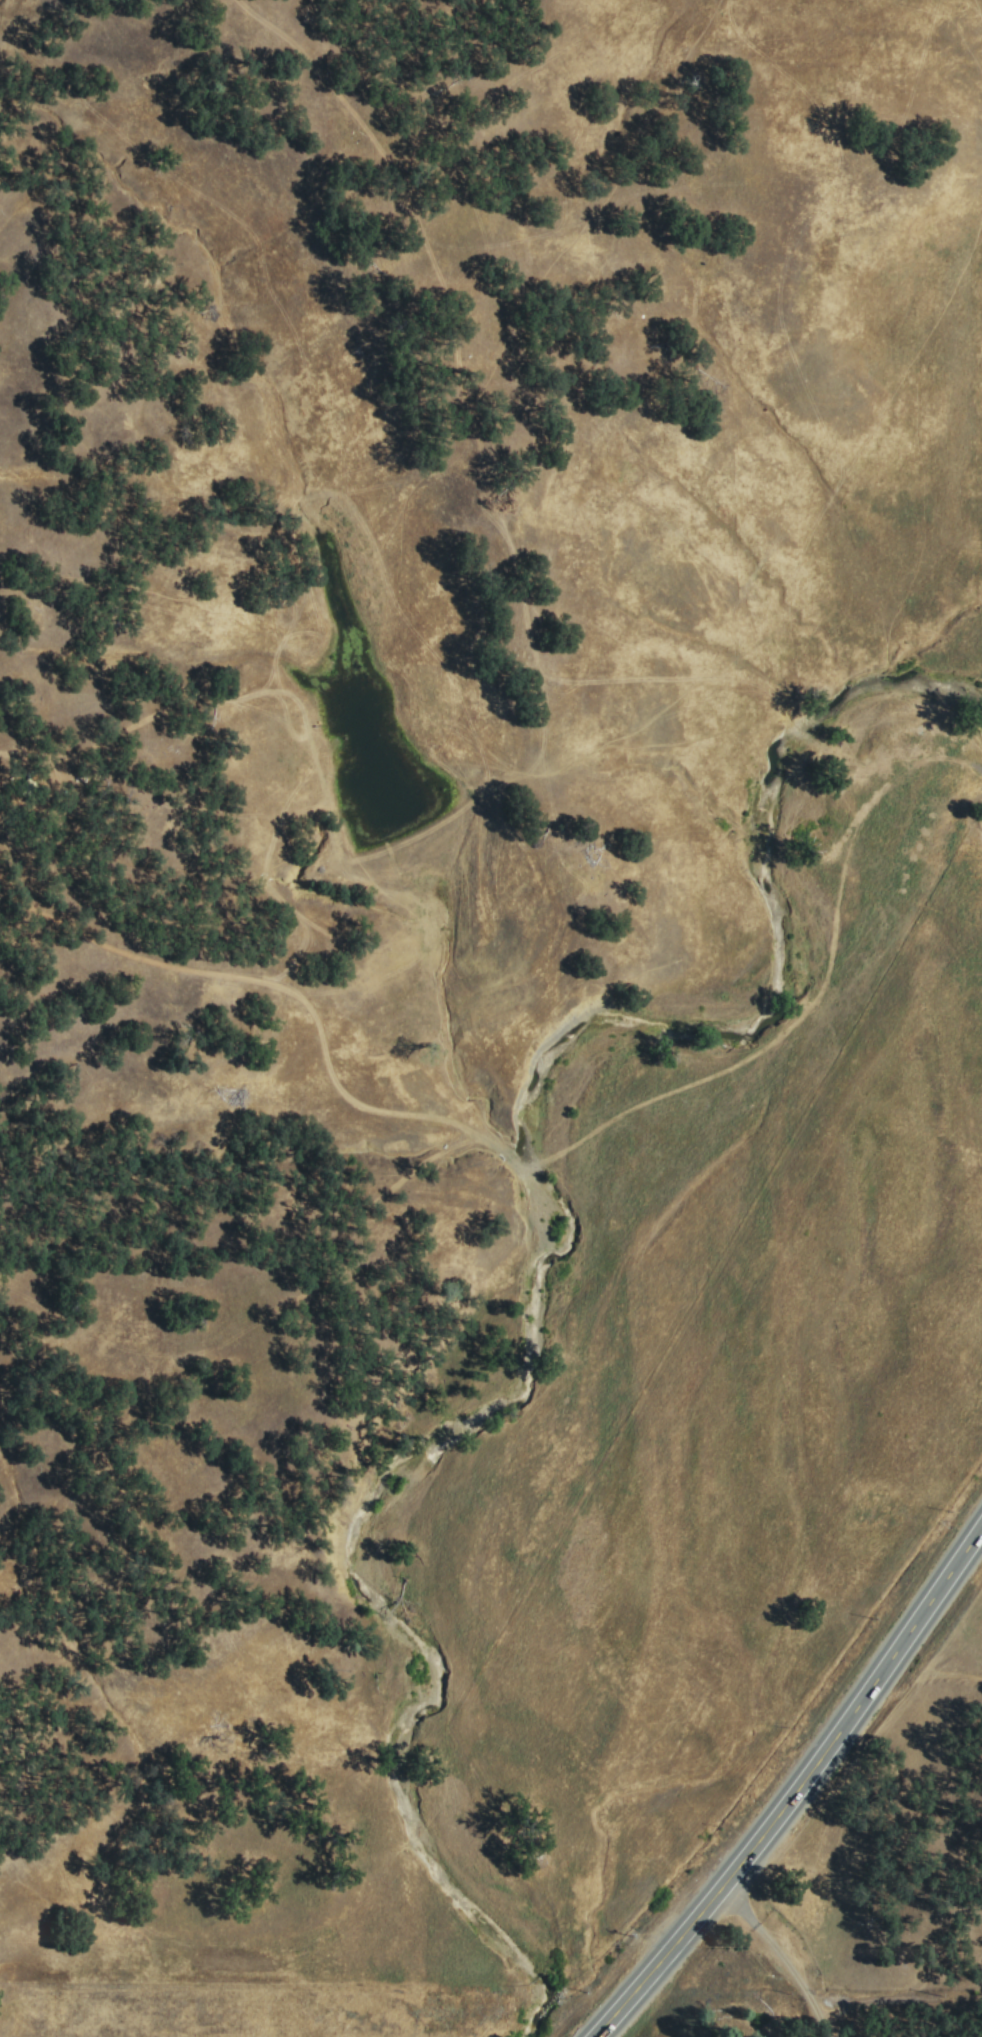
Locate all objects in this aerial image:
road: (443, 306)
road: (543, 1160)
road: (796, 1787)
road: (781, 1955)

